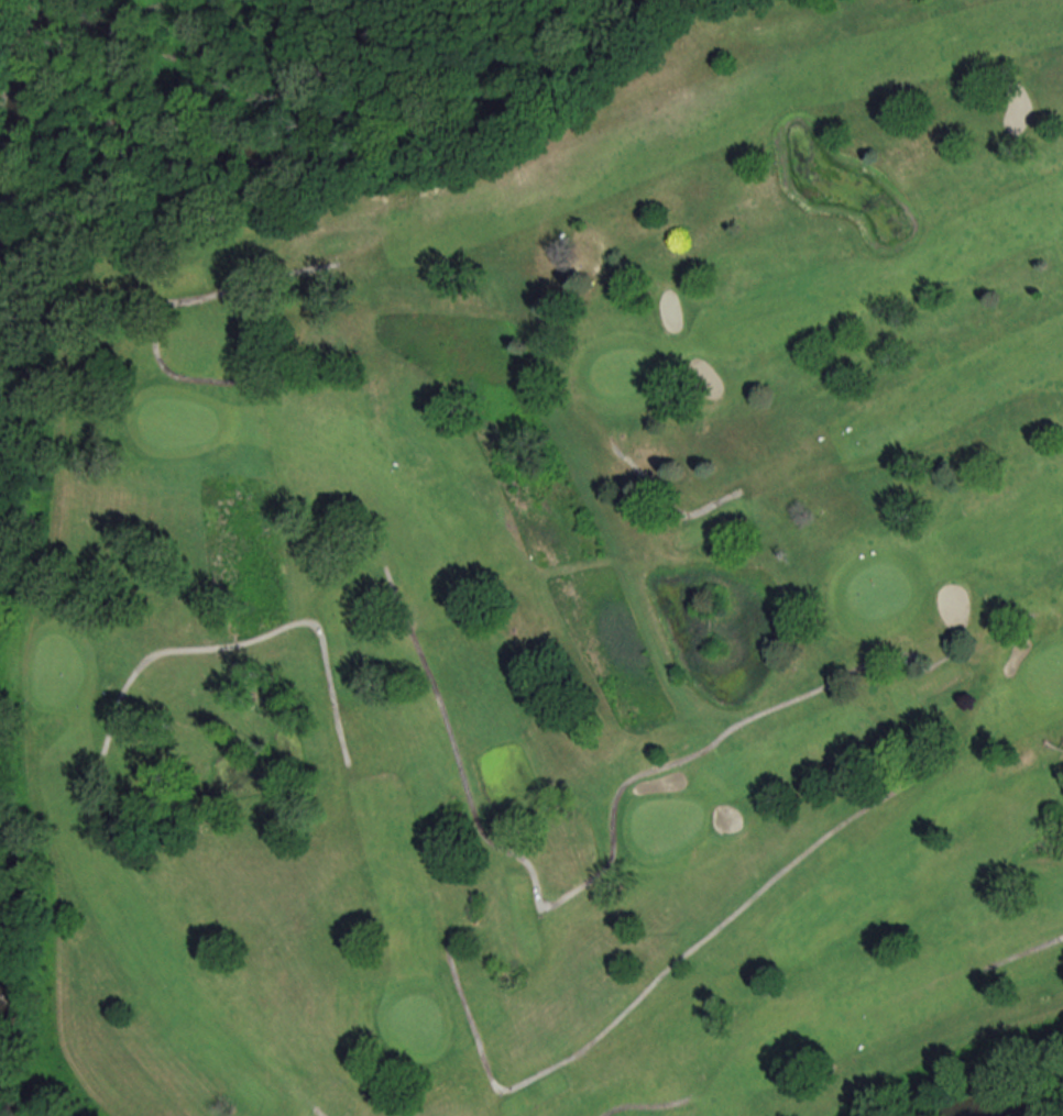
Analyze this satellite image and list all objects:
river: (262, 157)
park: (556, 603)

